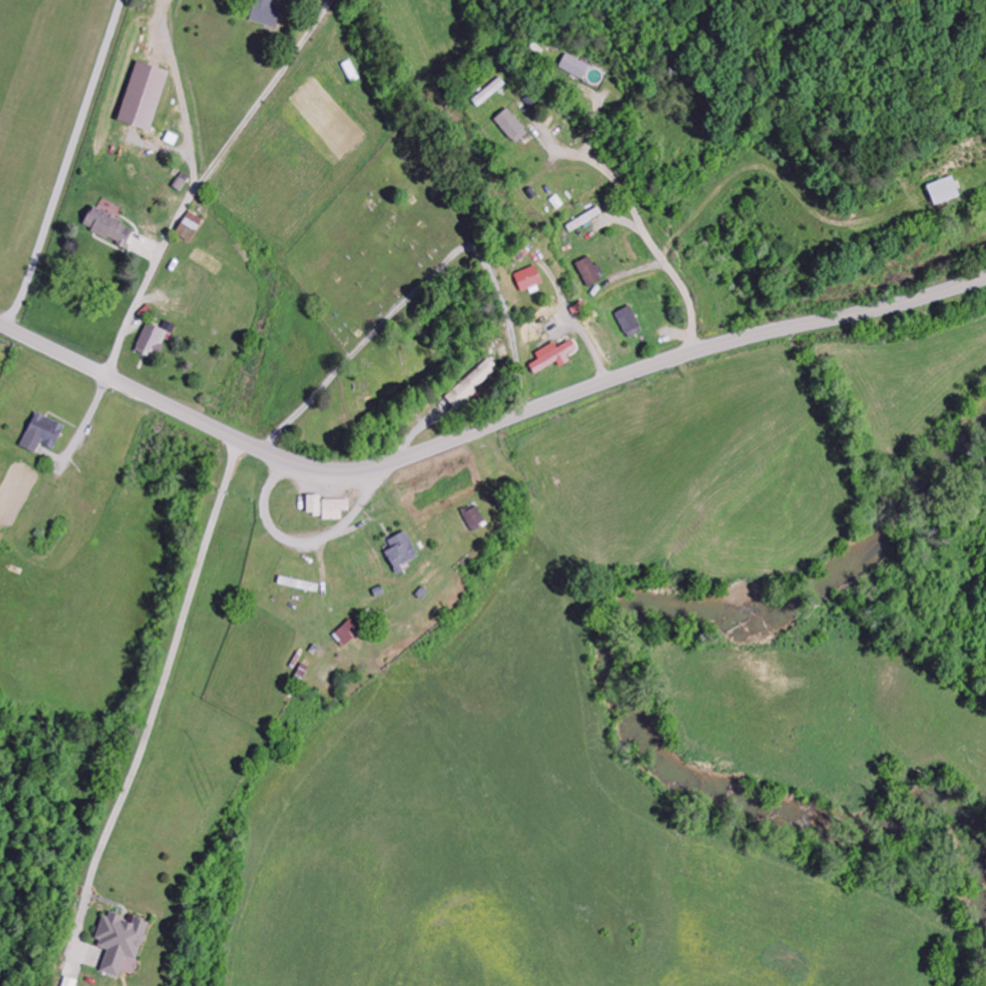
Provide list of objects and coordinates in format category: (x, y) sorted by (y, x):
building: (267, 13)
building: (575, 67)
building: (490, 93)
building: (143, 97)
building: (512, 127)
road: (206, 179)
building: (944, 192)
building: (189, 227)
building: (109, 228)
park: (376, 241)
road: (650, 243)
building: (591, 273)
building: (529, 280)
building: (629, 323)
road: (374, 334)
road: (515, 339)
building: (152, 342)
park: (419, 345)
building: (554, 357)
building: (473, 384)
road: (486, 427)
building: (43, 434)
building: (314, 506)
building: (335, 510)
building: (474, 519)
building: (401, 553)
building: (348, 634)
building: (121, 944)

